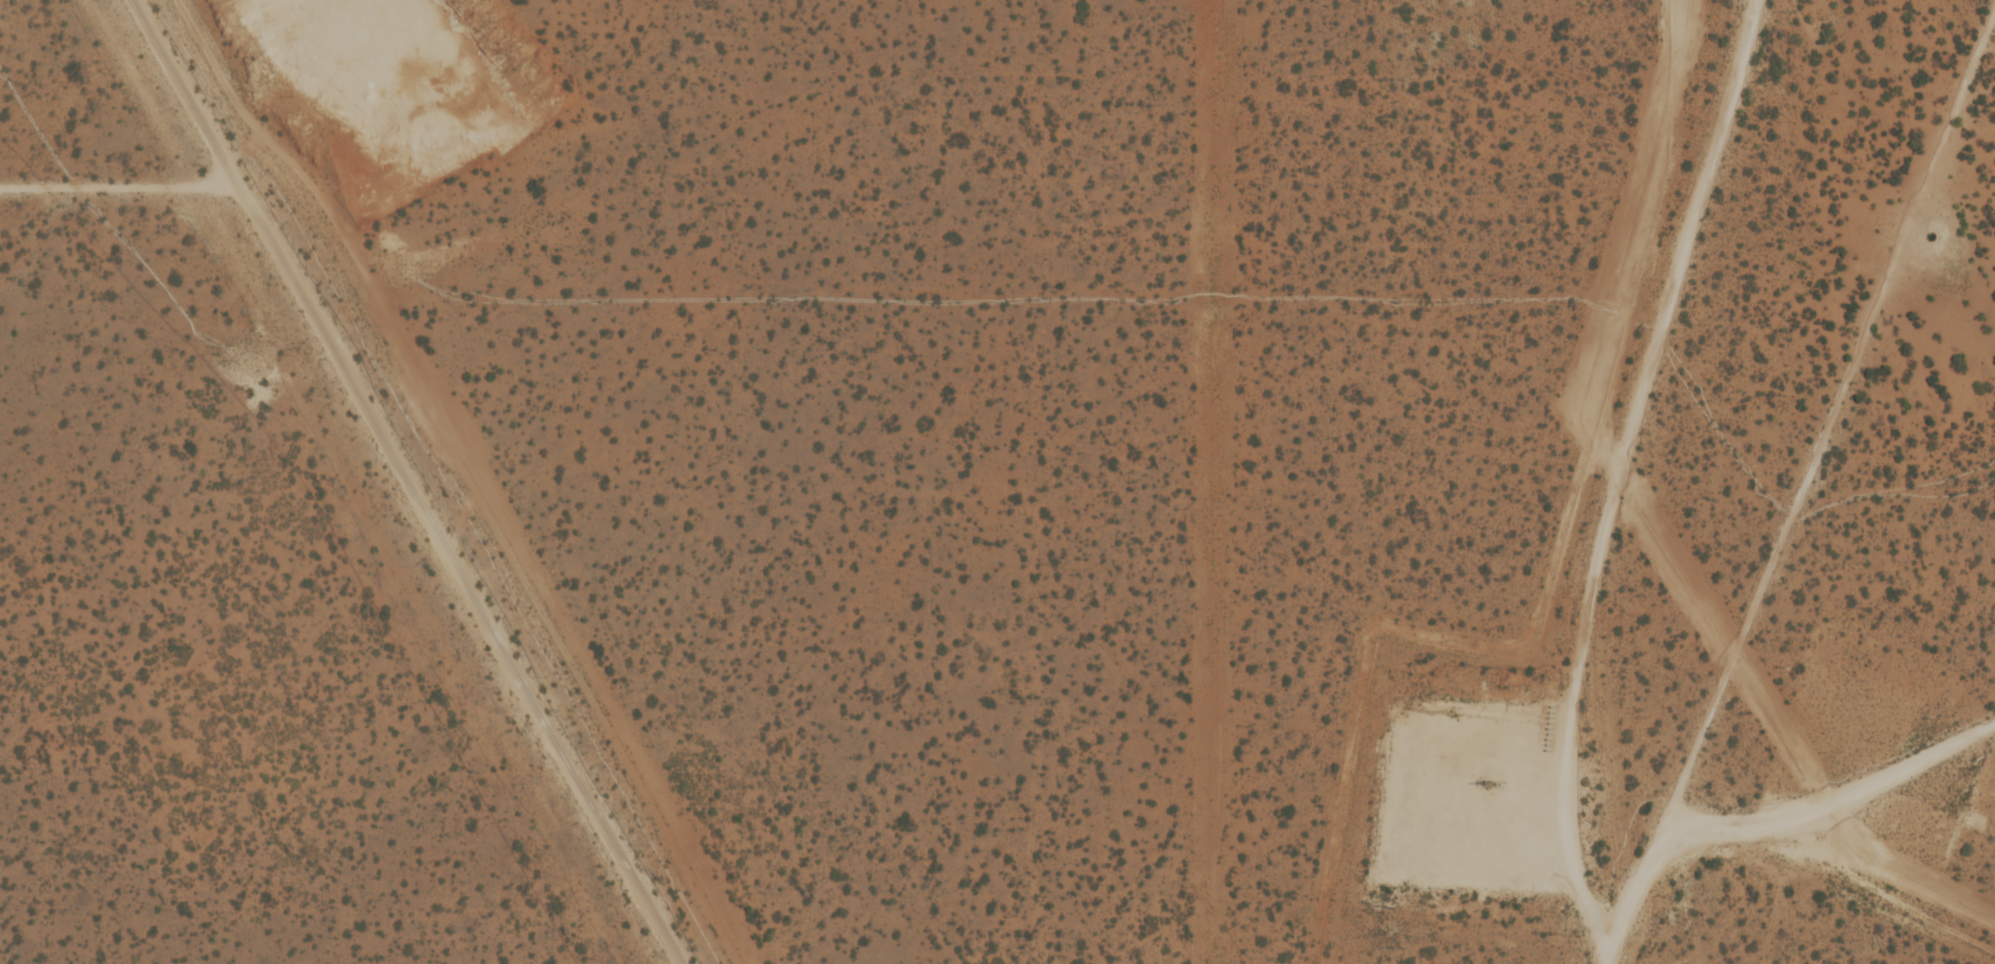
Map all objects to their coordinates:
road: (178, 89)
road: (399, 466)
road: (1624, 476)
road: (1803, 500)
road: (1838, 792)
road: (1464, 807)

